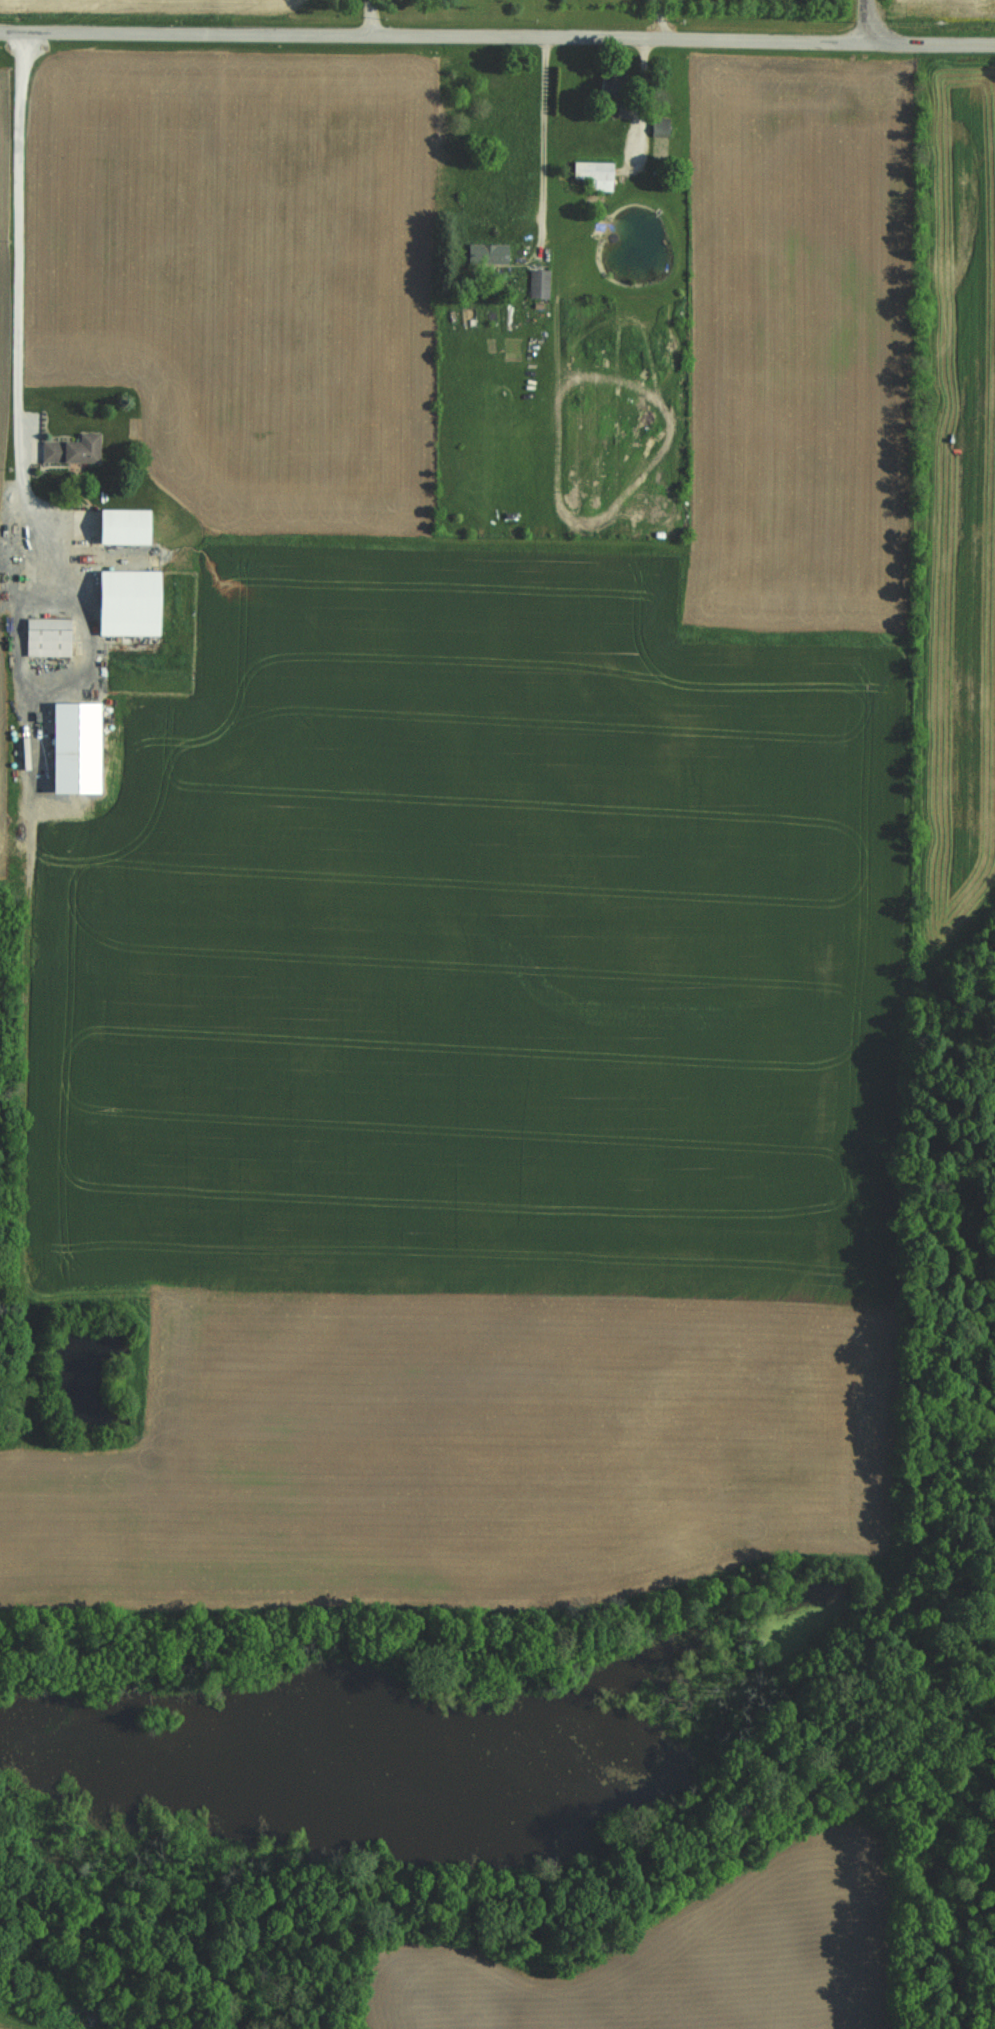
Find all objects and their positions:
road: (870, 20)
road: (434, 36)
road: (932, 41)
building: (609, 86)
building: (657, 127)
road: (545, 140)
building: (592, 174)
building: (485, 253)
road: (20, 254)
building: (536, 284)
building: (69, 450)
building: (119, 527)
building: (124, 603)
building: (43, 637)
building: (70, 747)

